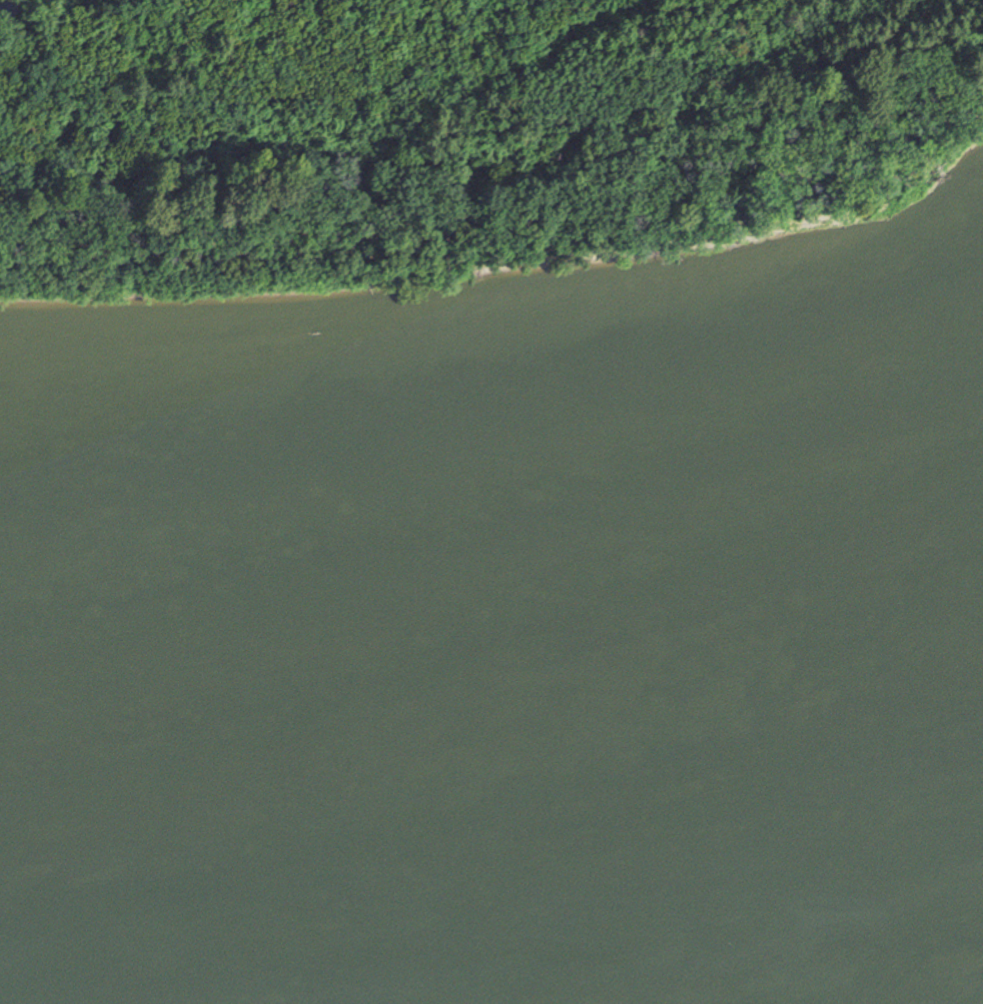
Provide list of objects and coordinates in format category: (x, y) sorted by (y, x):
river: (657, 967)
building: (982, 1003)

